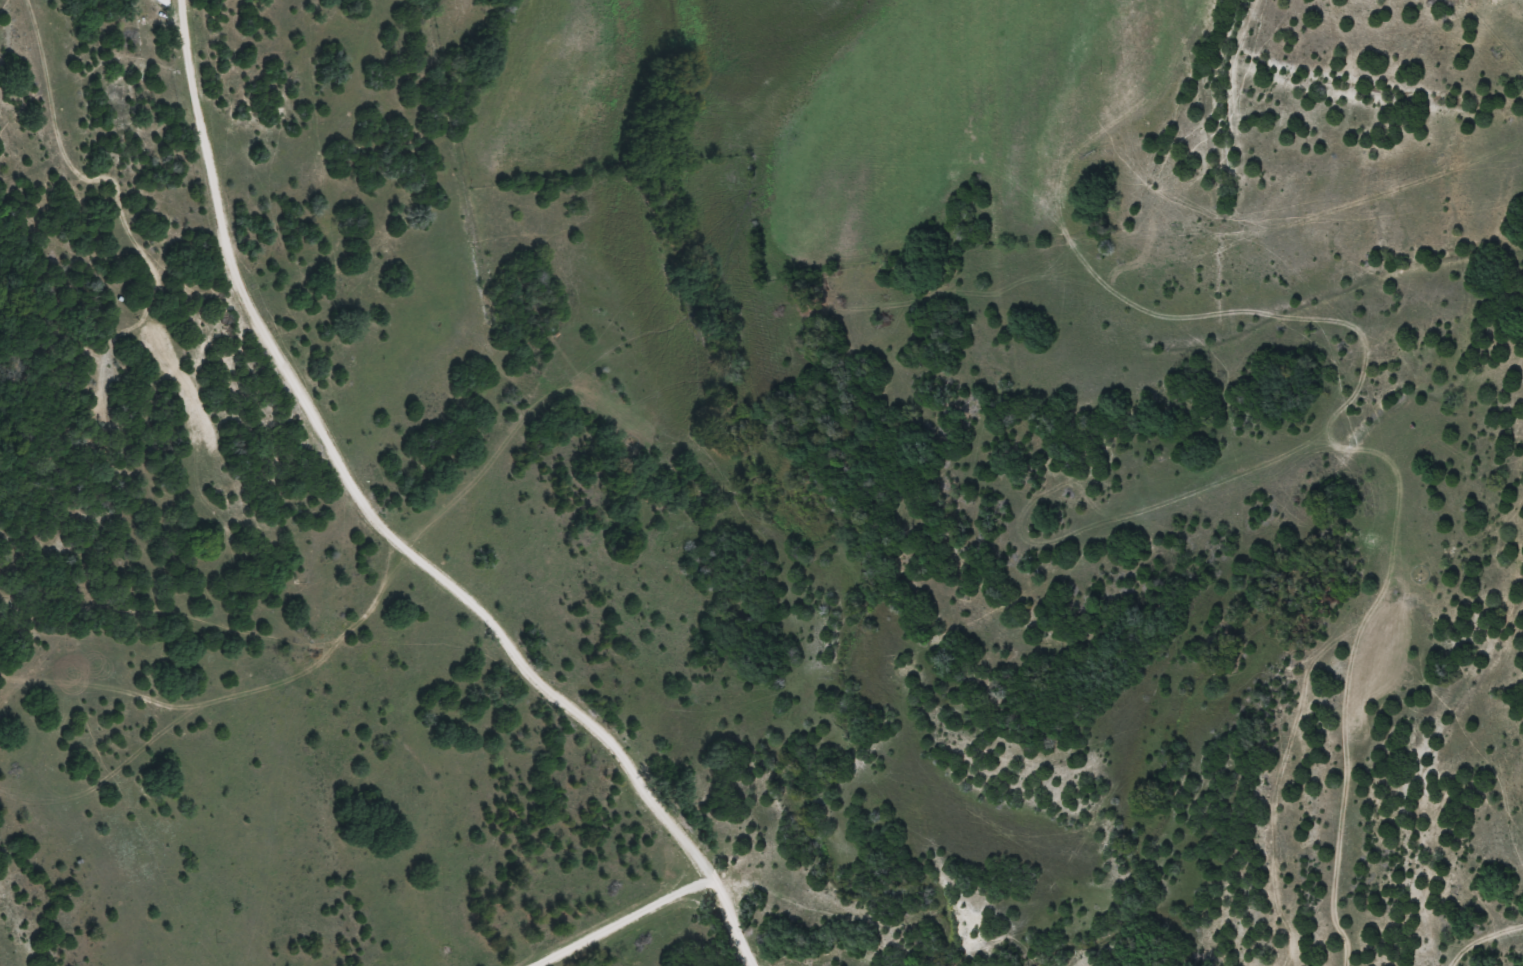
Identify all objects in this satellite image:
road: (417, 496)

